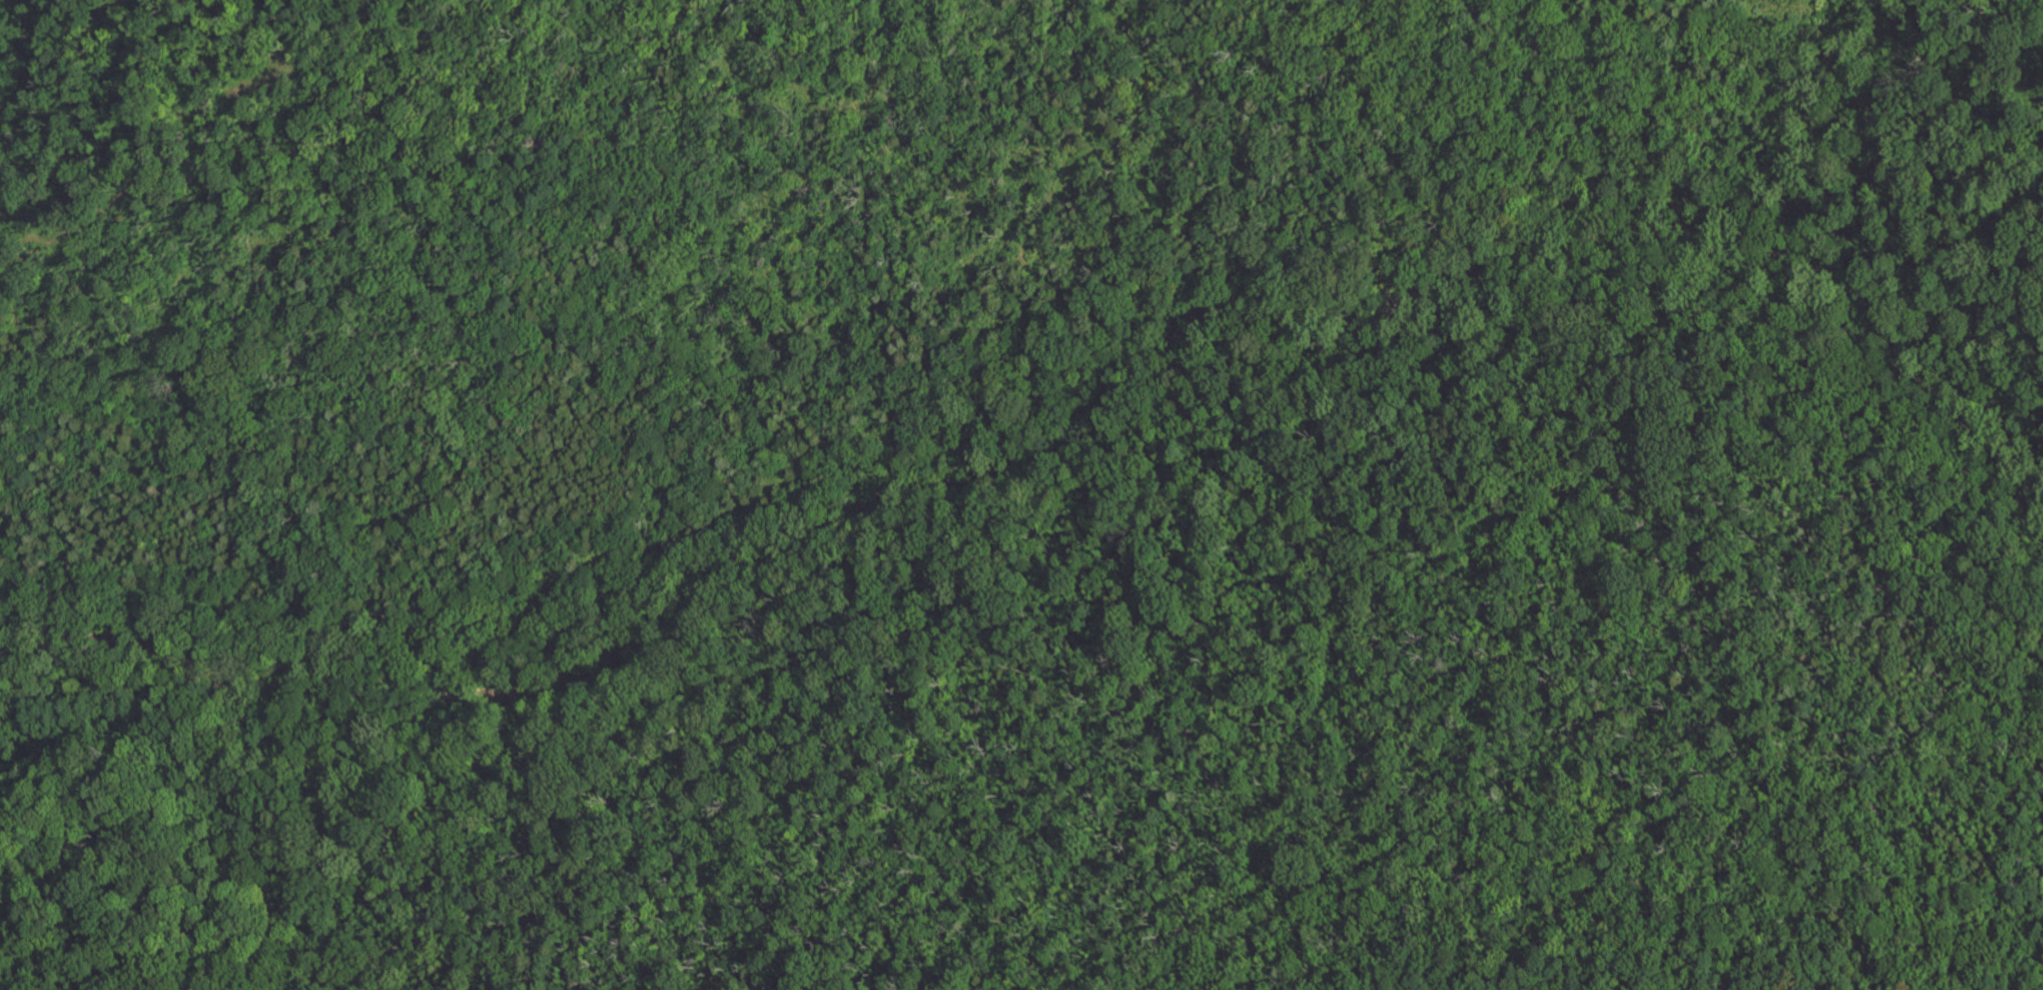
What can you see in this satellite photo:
road: (1322, 363)
road: (792, 616)
road: (213, 703)

